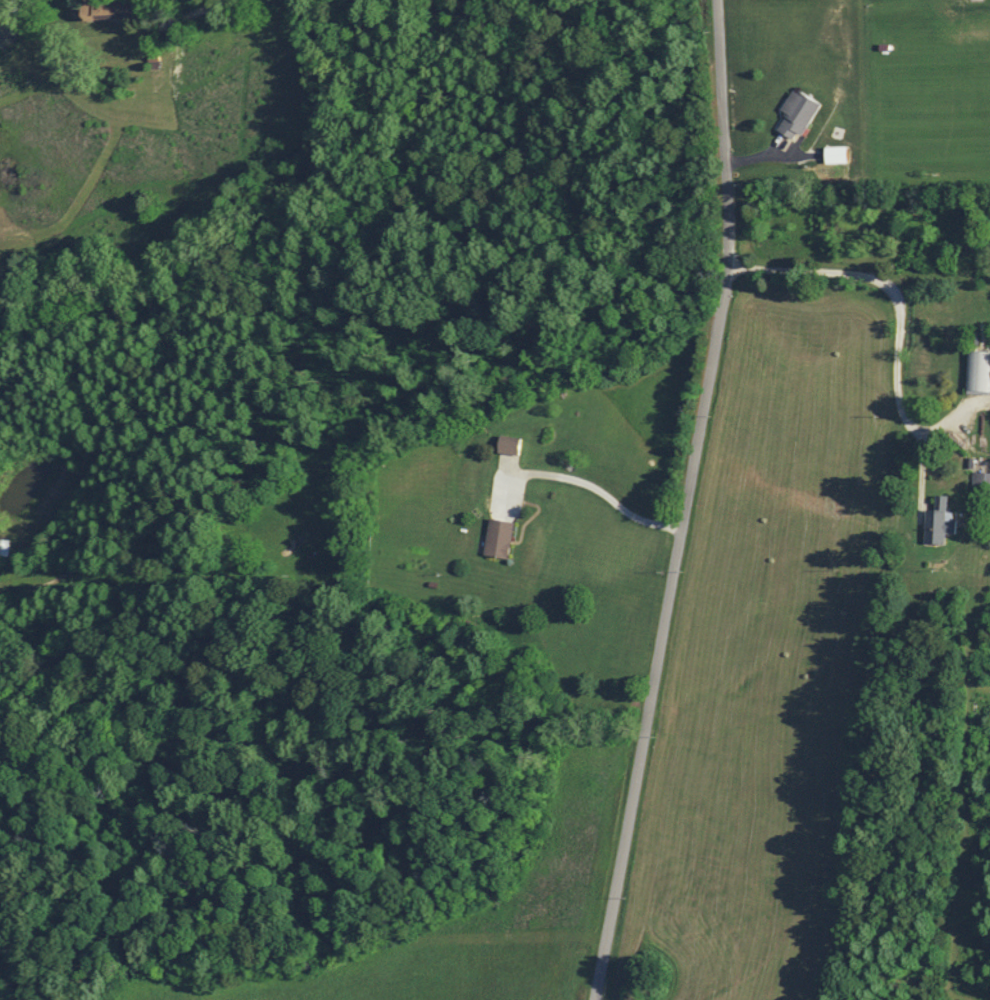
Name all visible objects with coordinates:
building: (100, 8)
road: (224, 22)
building: (794, 114)
road: (914, 279)
building: (976, 370)
building: (506, 444)
building: (980, 484)
road: (685, 502)
building: (936, 522)
building: (284, 535)
building: (495, 538)

